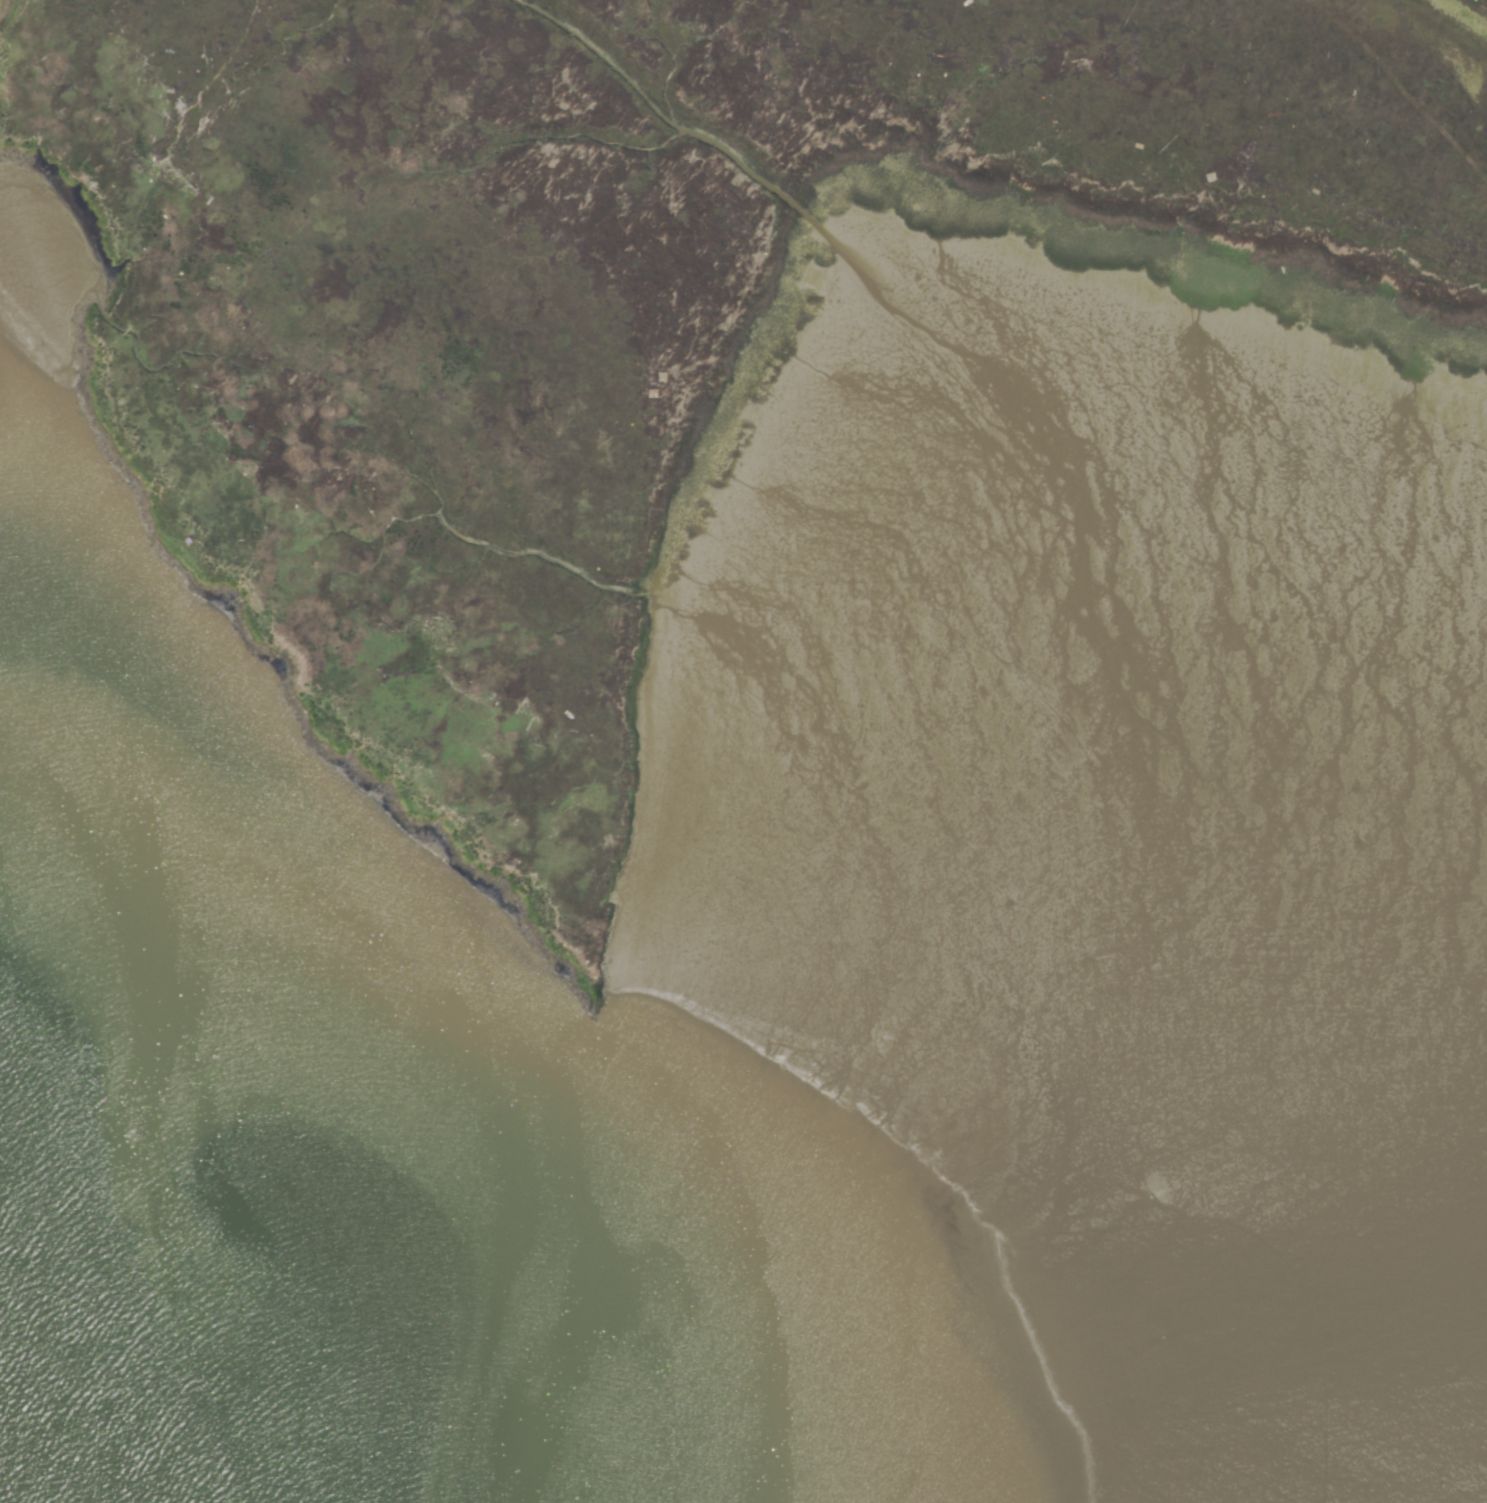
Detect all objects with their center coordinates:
river: (83, 1435)

